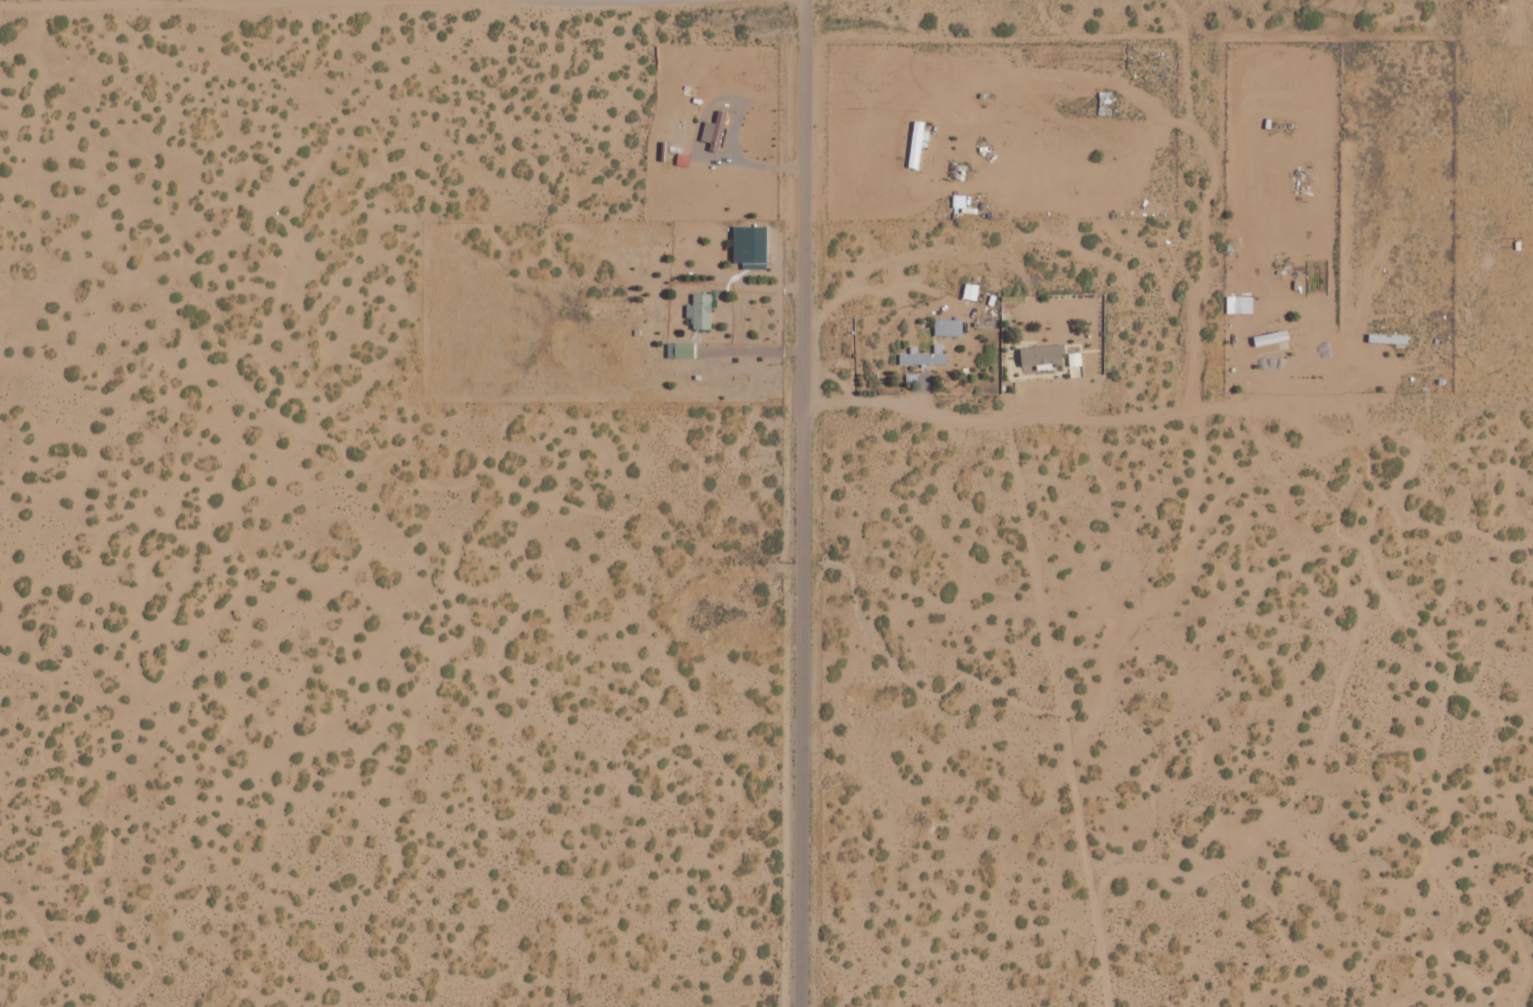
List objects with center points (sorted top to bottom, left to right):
road: (185, 0)
road: (192, 0)
building: (715, 130)
building: (751, 244)
building: (1241, 304)
building: (701, 311)
building: (949, 327)
building: (1389, 339)
building: (682, 350)
building: (1042, 354)
building: (925, 357)
building: (1075, 359)
road: (801, 503)

